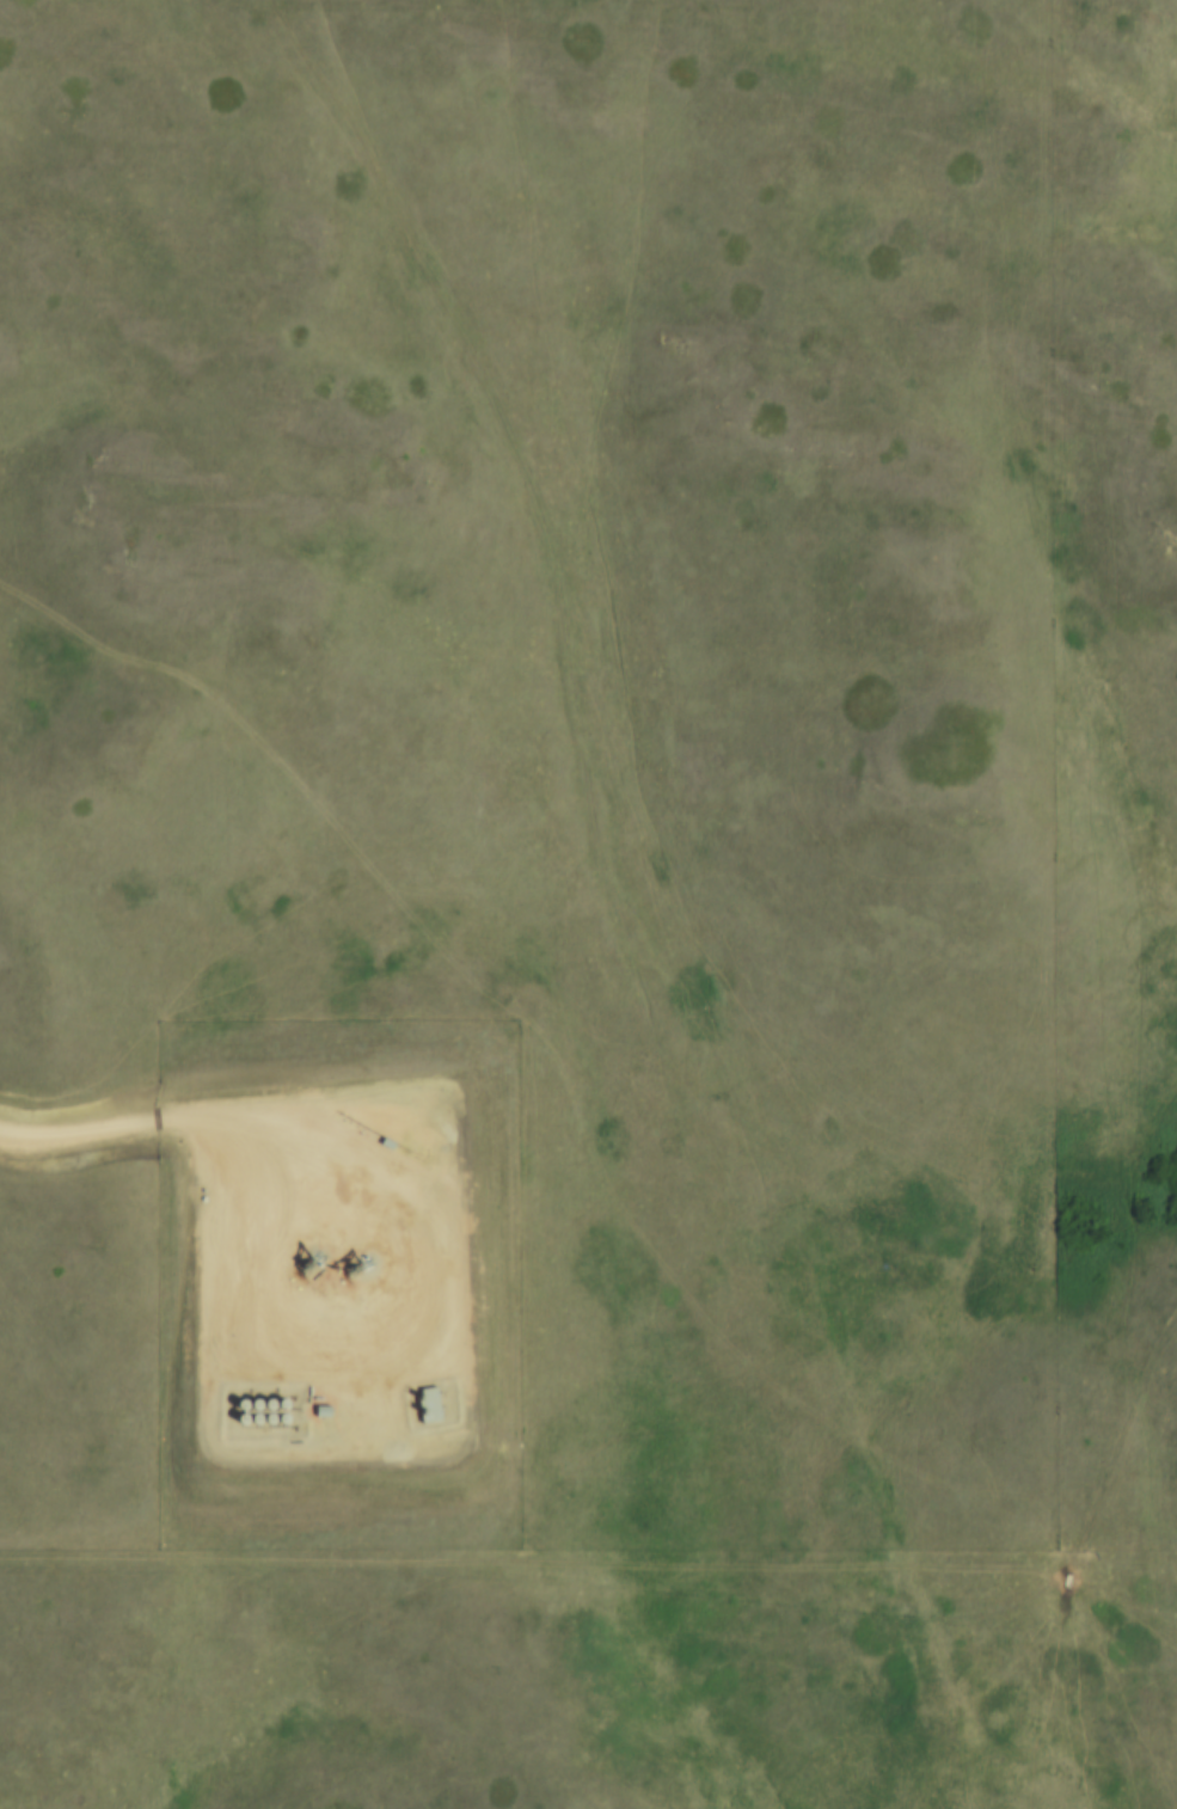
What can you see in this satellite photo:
road: (165, 1108)
petroleum well: (351, 1268)
petroleum well: (301, 1269)
building: (276, 1409)
storage tank: (276, 1409)
building: (249, 1410)
storage tank: (249, 1410)
building: (262, 1410)
storage tank: (262, 1410)
building: (425, 1410)
building: (235, 1411)
storage tank: (235, 1411)
building: (318, 1414)
building: (249, 1424)
storage tank: (249, 1424)
building: (262, 1424)
storage tank: (262, 1424)
building: (276, 1424)
storage tank: (276, 1424)
building: (234, 1425)
storage tank: (234, 1425)

